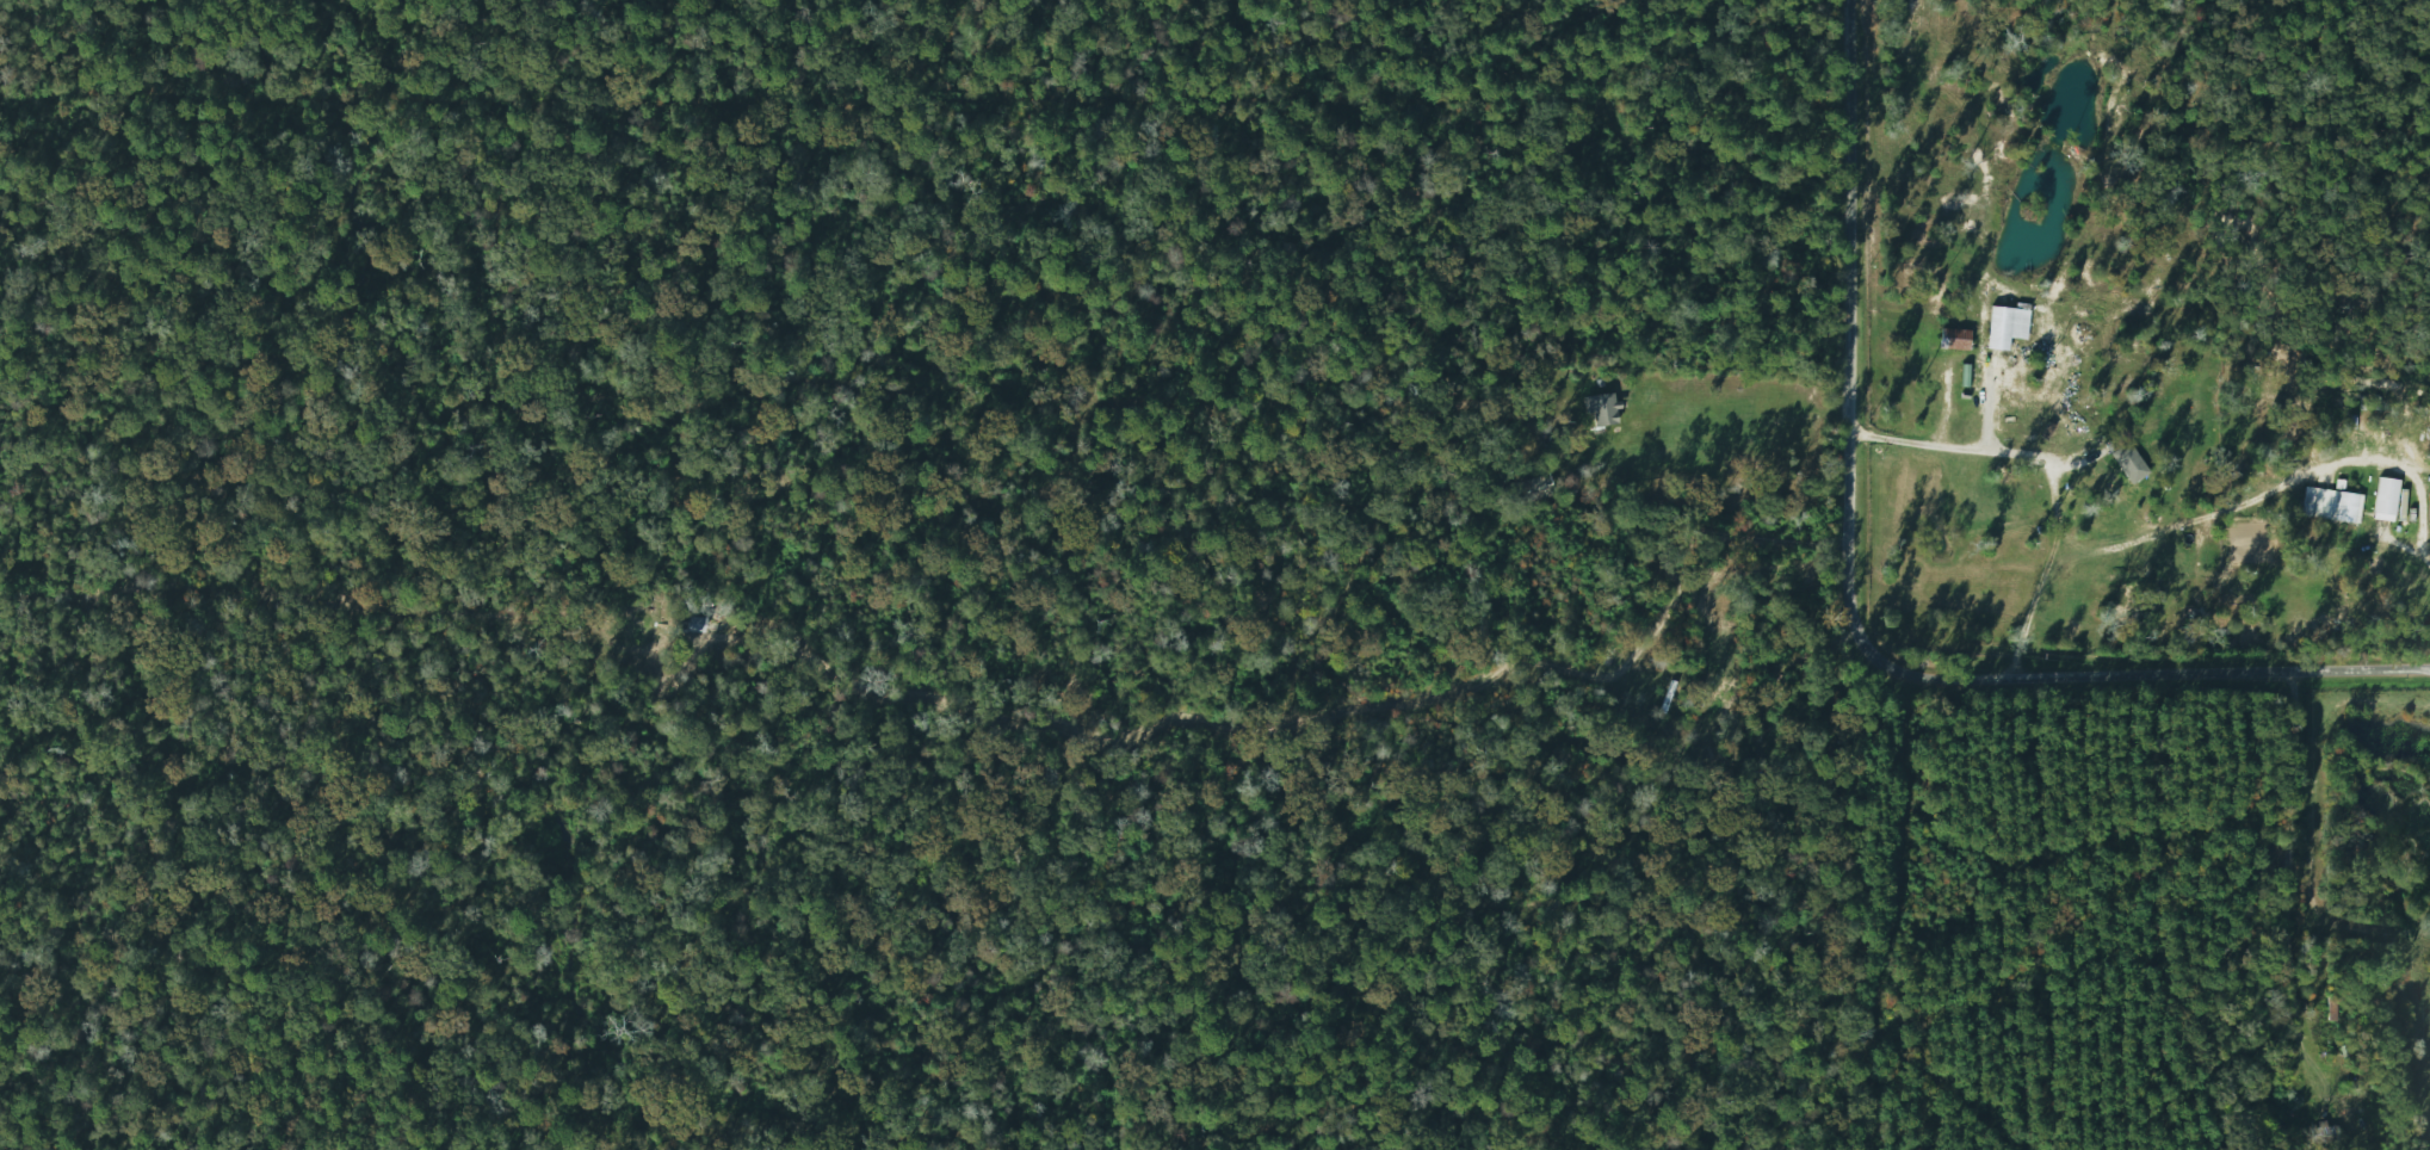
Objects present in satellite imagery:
building: (1953, 339)
road: (1979, 451)
building: (2129, 462)
building: (2343, 506)
road: (2407, 551)
road: (2059, 577)
road: (1860, 608)
road: (2284, 888)

